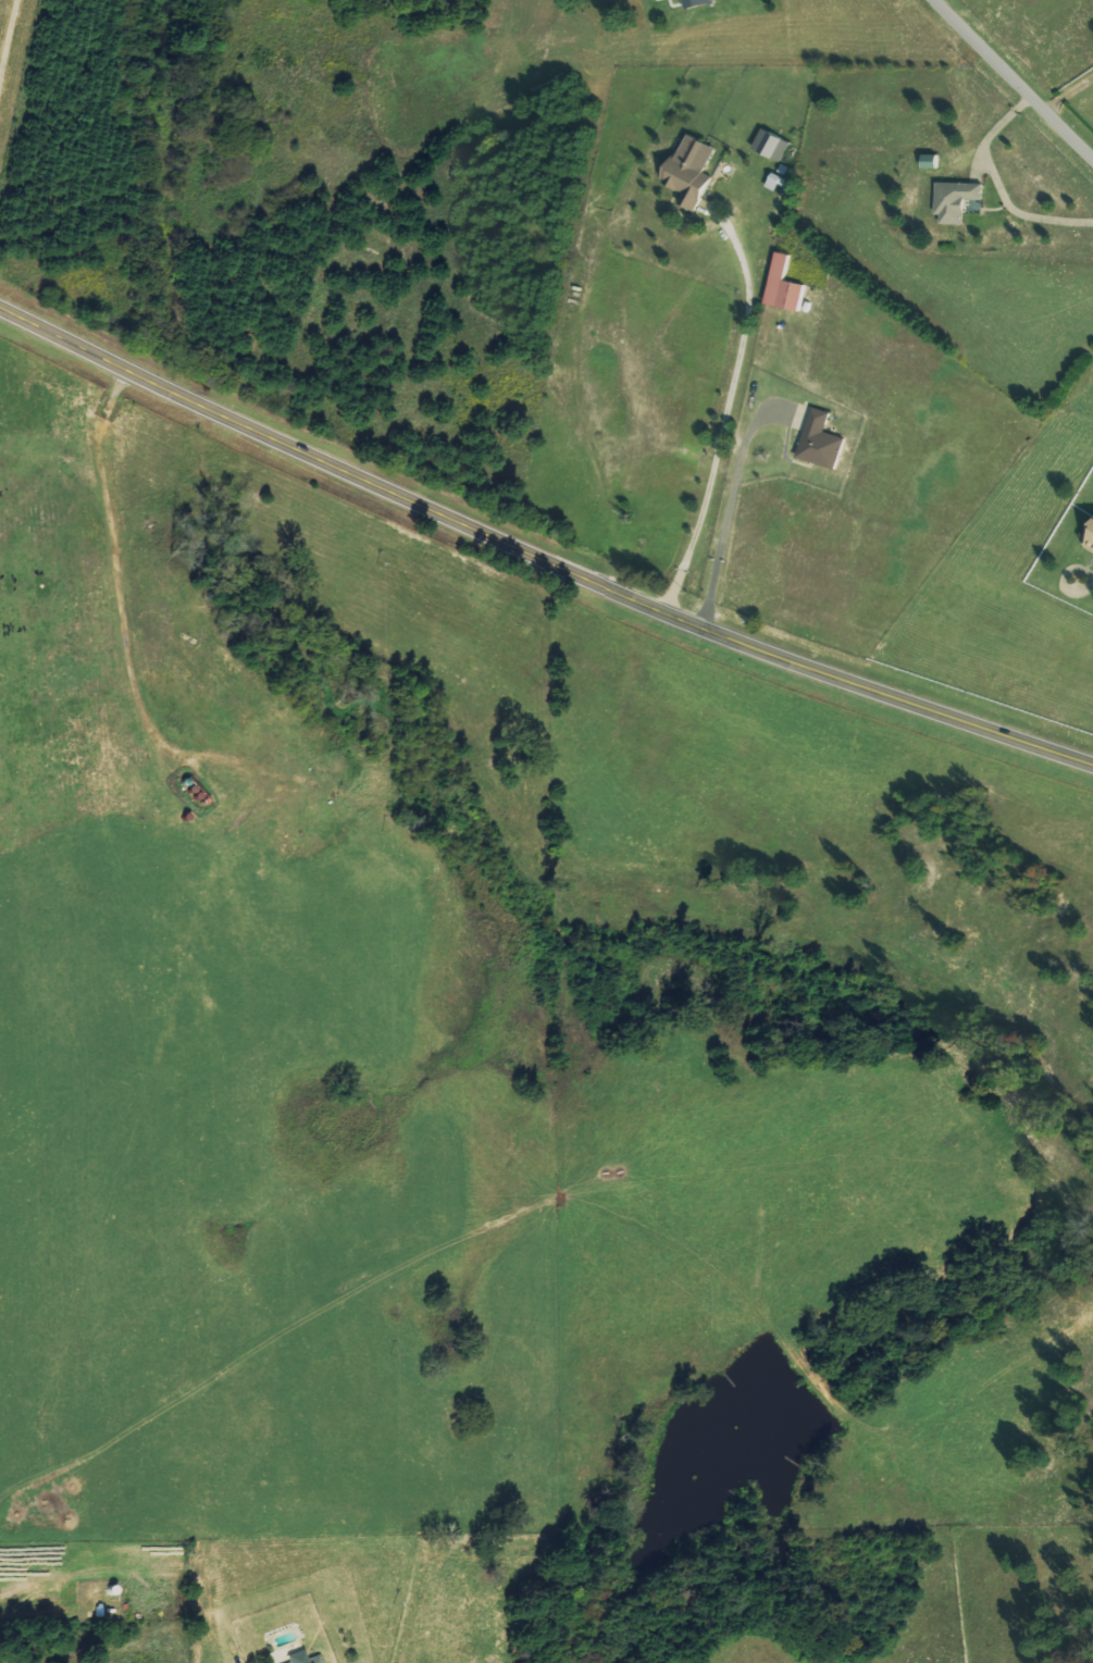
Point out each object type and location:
building: (701, 3)
road: (1011, 82)
building: (775, 145)
building: (934, 161)
building: (696, 172)
building: (960, 201)
building: (787, 286)
building: (823, 442)
building: (1088, 535)
road: (537, 545)
building: (313, 1661)
building: (325, 1661)

